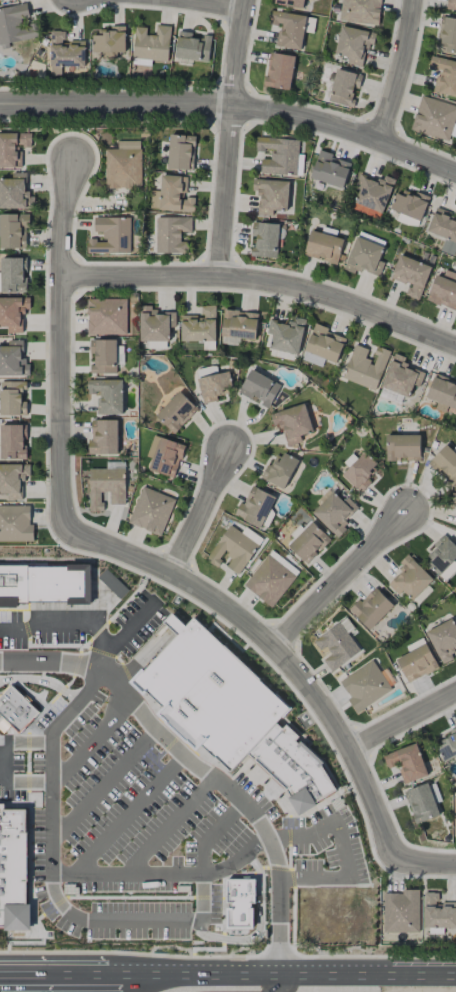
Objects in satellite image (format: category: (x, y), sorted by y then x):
building: (451, 2)
road: (214, 4)
building: (360, 11)
building: (15, 25)
building: (289, 30)
building: (447, 35)
building: (108, 42)
building: (151, 43)
building: (353, 44)
building: (192, 47)
building: (279, 71)
road: (401, 72)
building: (444, 76)
building: (344, 87)
road: (233, 108)
building: (434, 118)
road: (230, 138)
building: (13, 148)
building: (181, 152)
building: (278, 155)
building: (123, 165)
building: (329, 169)
building: (15, 192)
building: (372, 194)
building: (270, 195)
building: (409, 204)
building: (407, 220)
building: (444, 229)
building: (13, 230)
building: (171, 234)
building: (111, 236)
building: (265, 239)
building: (323, 247)
building: (364, 257)
building: (13, 275)
building: (410, 275)
road: (264, 282)
building: (443, 290)
building: (13, 313)
building: (107, 317)
building: (155, 324)
building: (239, 324)
building: (199, 325)
building: (286, 335)
road: (63, 344)
building: (323, 346)
building: (103, 356)
building: (13, 359)
building: (365, 367)
building: (401, 376)
building: (213, 386)
building: (259, 387)
building: (442, 391)
building: (107, 395)
building: (12, 398)
building: (176, 412)
building: (292, 423)
building: (103, 437)
building: (13, 442)
building: (403, 447)
building: (164, 455)
building: (446, 463)
building: (279, 470)
building: (360, 471)
building: (12, 479)
building: (106, 486)
building: (454, 498)
building: (255, 507)
building: (151, 511)
building: (334, 511)
road: (203, 512)
building: (15, 524)
building: (251, 535)
building: (309, 543)
building: (233, 550)
building: (441, 554)
building: (271, 578)
building: (410, 578)
road: (342, 580)
building: (45, 584)
building: (112, 584)
building: (371, 608)
road: (58, 624)
building: (443, 639)
building: (337, 644)
road: (277, 649)
building: (417, 663)
road: (89, 668)
building: (364, 686)
building: (15, 711)
building: (229, 711)
road: (403, 719)
road: (87, 743)
building: (448, 745)
building: (407, 763)
road: (102, 785)
road: (234, 798)
building: (421, 803)
road: (126, 816)
building: (454, 816)
parking lot: (148, 819)
road: (168, 828)
road: (211, 835)
road: (341, 851)
road: (429, 861)
building: (13, 870)
road: (58, 876)
parking lot: (128, 887)
road: (129, 898)
road: (201, 898)
building: (240, 903)
road: (54, 906)
road: (202, 906)
building: (401, 911)
building: (438, 912)
parking lot: (138, 920)
road: (104, 921)
road: (53, 976)
road: (119, 977)
road: (294, 978)
road: (289, 985)

